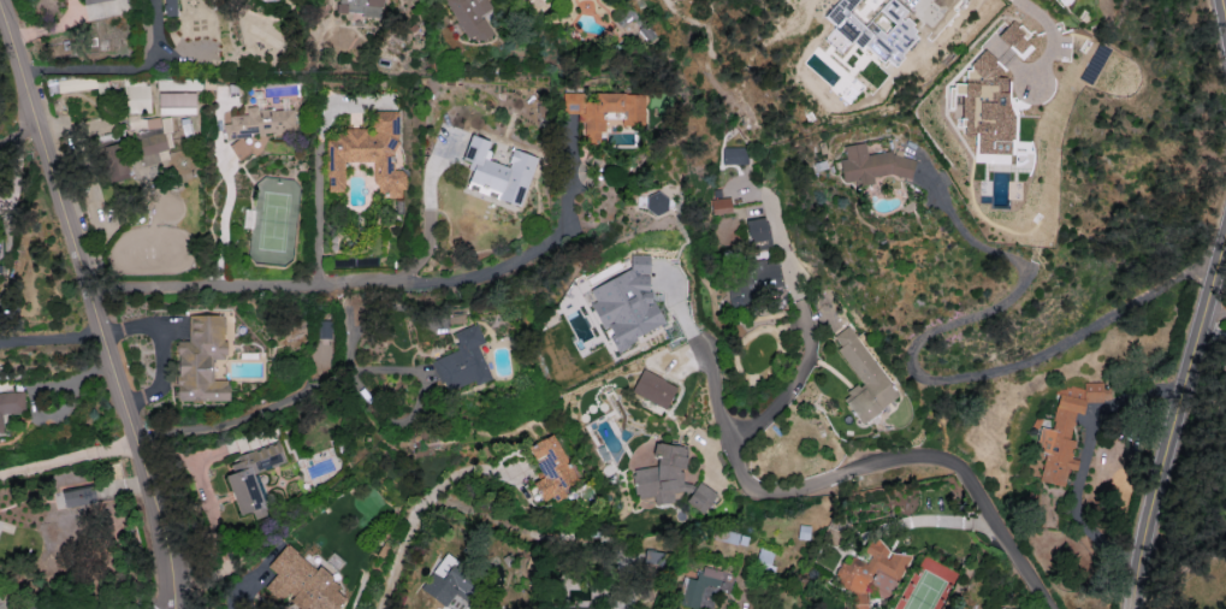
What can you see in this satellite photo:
road: (919, 0)
building: (91, 1)
building: (359, 6)
building: (170, 7)
building: (470, 17)
building: (1014, 37)
road: (117, 69)
building: (176, 102)
building: (984, 106)
building: (603, 111)
building: (260, 122)
road: (19, 134)
building: (148, 137)
building: (368, 154)
building: (734, 155)
building: (113, 161)
building: (872, 167)
building: (497, 171)
road: (321, 189)
building: (656, 202)
building: (719, 205)
road: (224, 227)
building: (757, 231)
road: (431, 242)
building: (751, 282)
road: (378, 285)
road: (93, 303)
building: (626, 303)
road: (1216, 312)
road: (807, 319)
building: (324, 329)
road: (52, 337)
building: (200, 360)
building: (462, 360)
building: (863, 378)
road: (924, 378)
road: (712, 388)
building: (653, 389)
building: (11, 404)
road: (231, 422)
road: (1178, 424)
building: (1064, 431)
road: (67, 456)
road: (1083, 462)
road: (902, 463)
building: (550, 467)
building: (250, 475)
building: (662, 475)
building: (77, 496)
building: (699, 497)
road: (415, 516)
road: (938, 520)
building: (869, 572)
building: (301, 581)
building: (448, 584)
building: (699, 589)
building: (596, 608)

